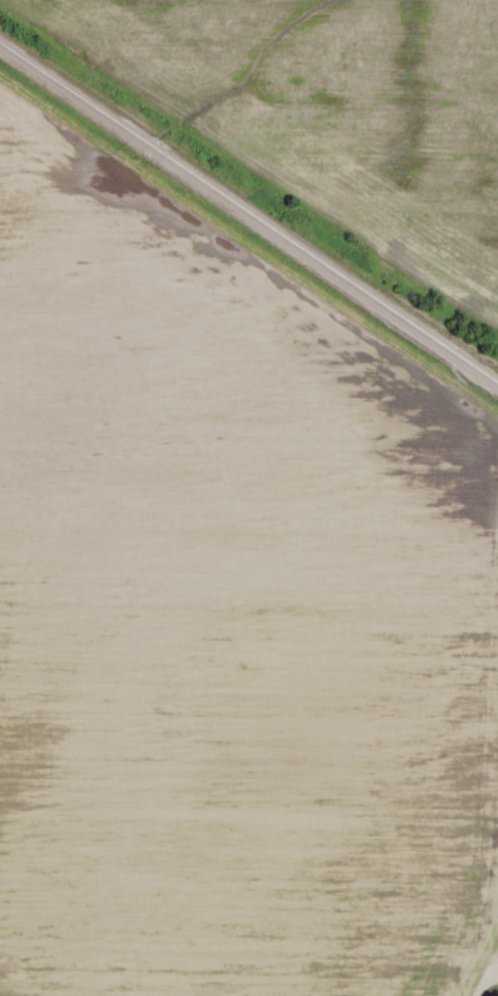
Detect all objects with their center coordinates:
railway: (249, 214)

